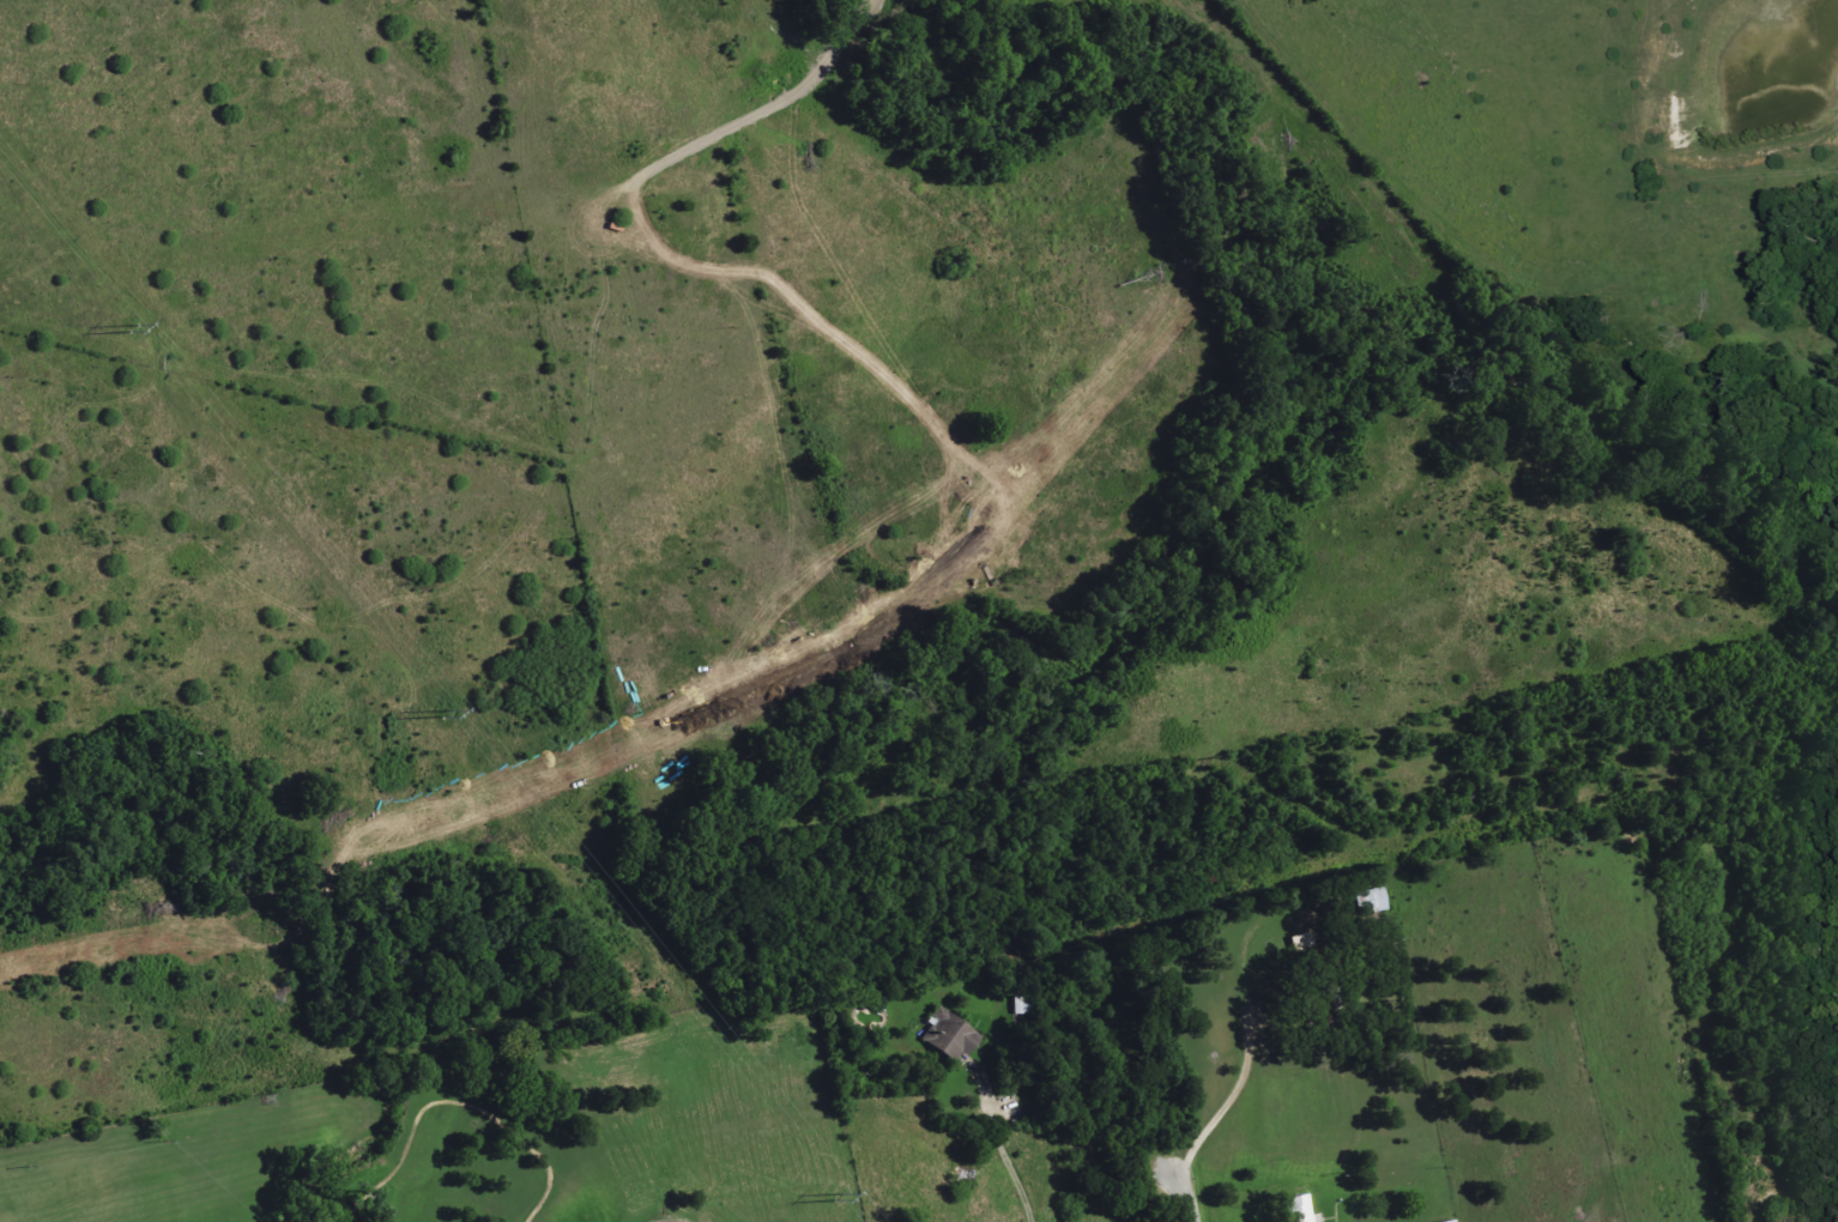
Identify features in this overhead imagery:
power tower: (135, 328)
power tower: (448, 713)
building: (949, 1035)
road: (1252, 1039)
road: (1014, 1172)
power tower: (845, 1202)
building: (1301, 1210)
building: (1450, 1221)

